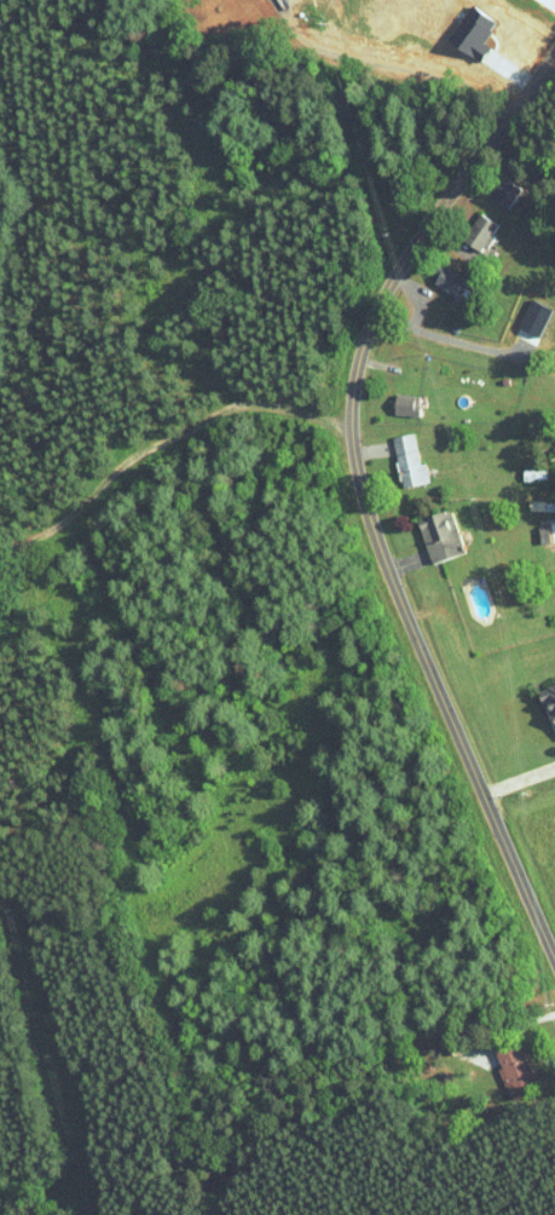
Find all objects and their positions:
road: (538, 12)
road: (470, 97)
road: (487, 185)
building: (504, 191)
road: (459, 220)
building: (479, 231)
road: (427, 271)
road: (383, 392)
building: (405, 404)
building: (407, 461)
road: (383, 462)
building: (533, 474)
road: (362, 495)
road: (457, 500)
building: (439, 536)
road: (414, 559)
building: (548, 697)
road: (507, 727)
road: (519, 779)
road: (530, 1036)
building: (510, 1064)

